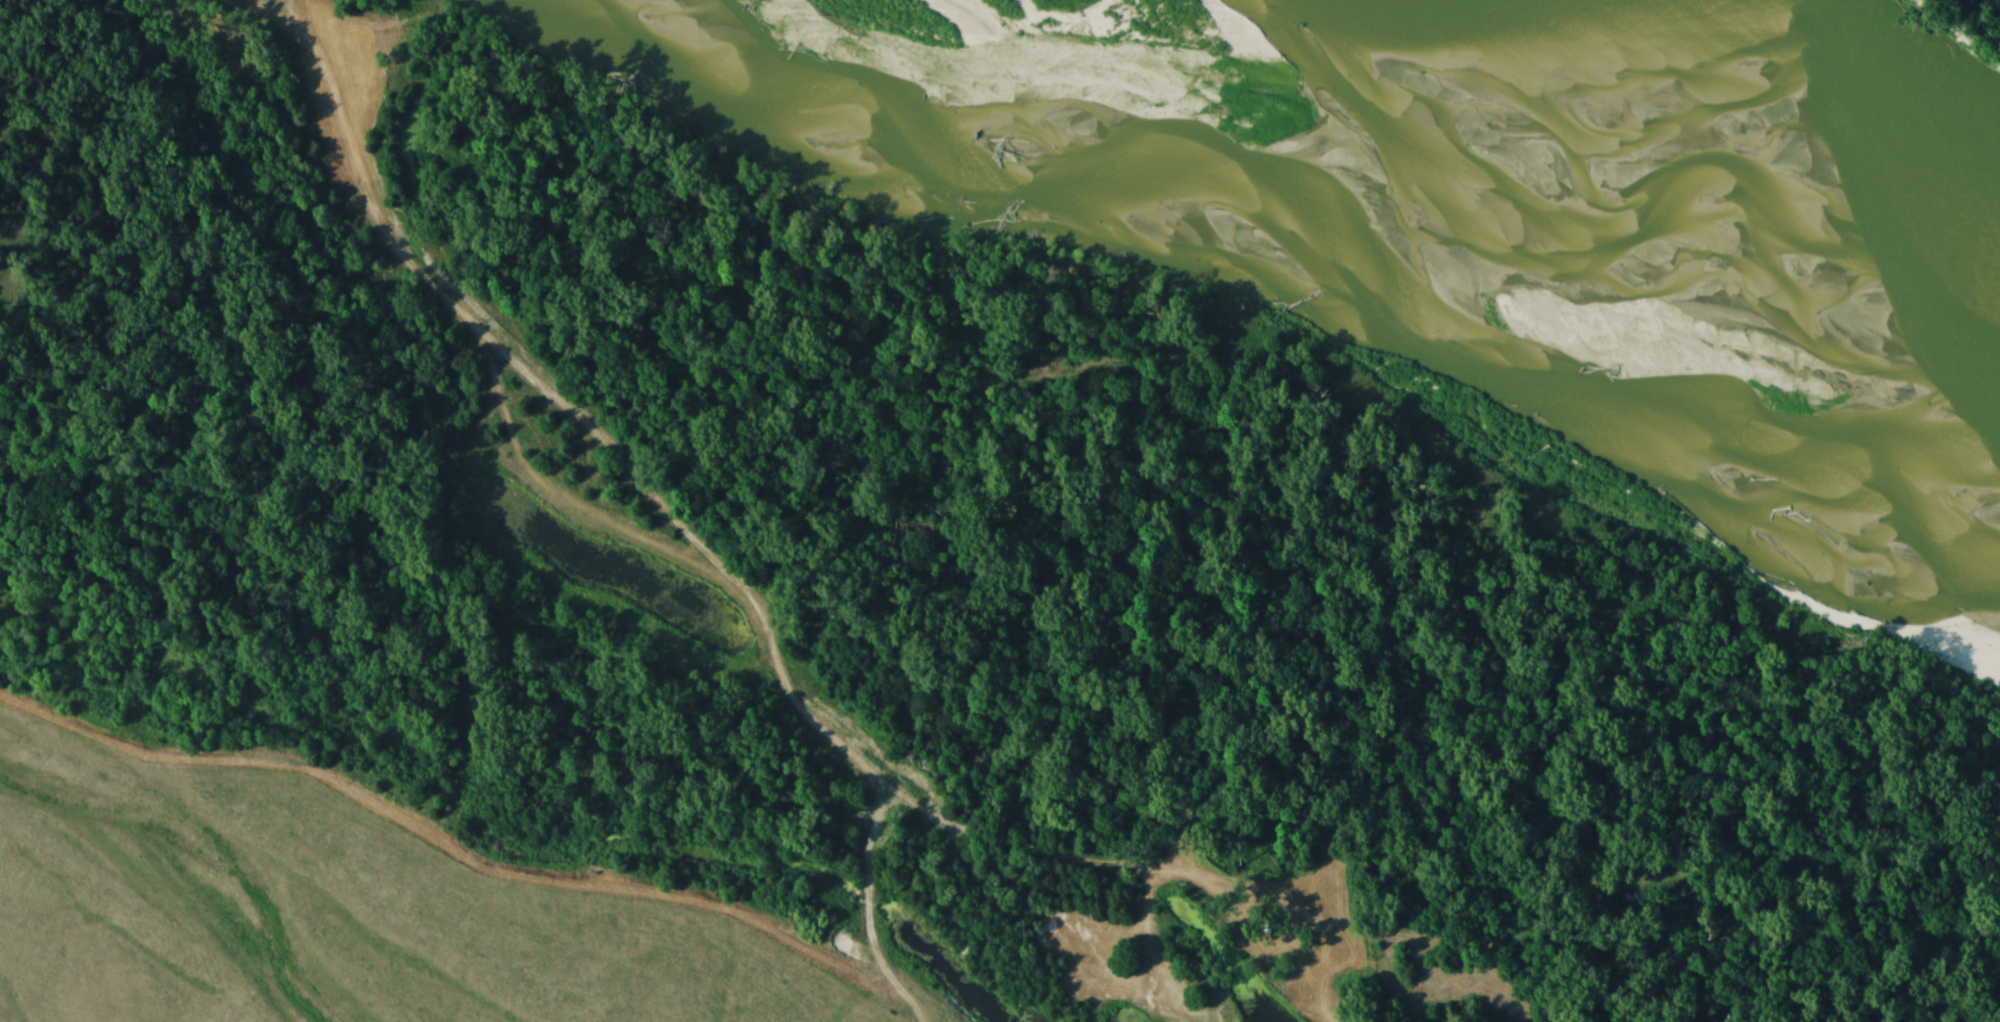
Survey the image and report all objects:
river: (1773, 160)

